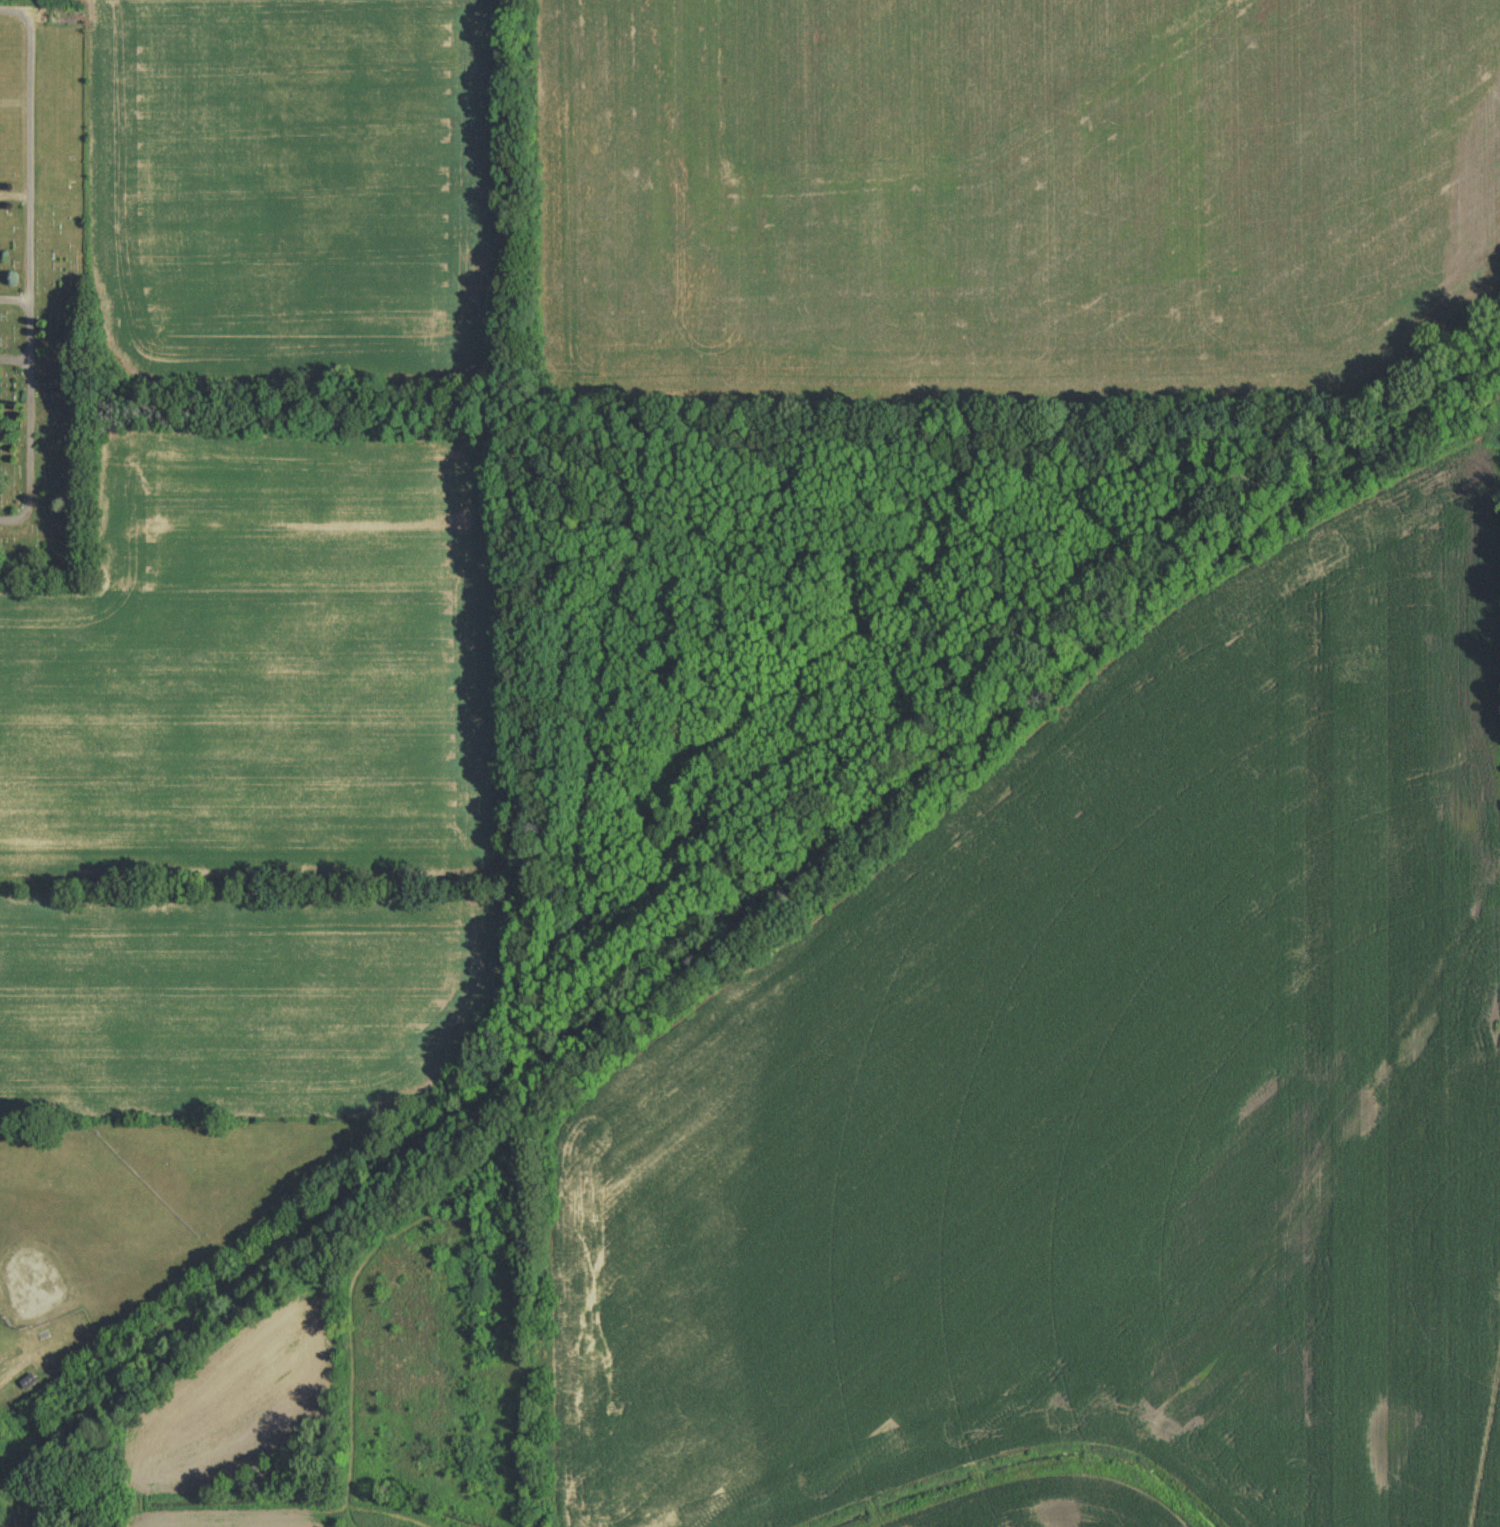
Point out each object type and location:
road: (25, 272)
park: (42, 292)
road: (12, 301)
road: (13, 358)

